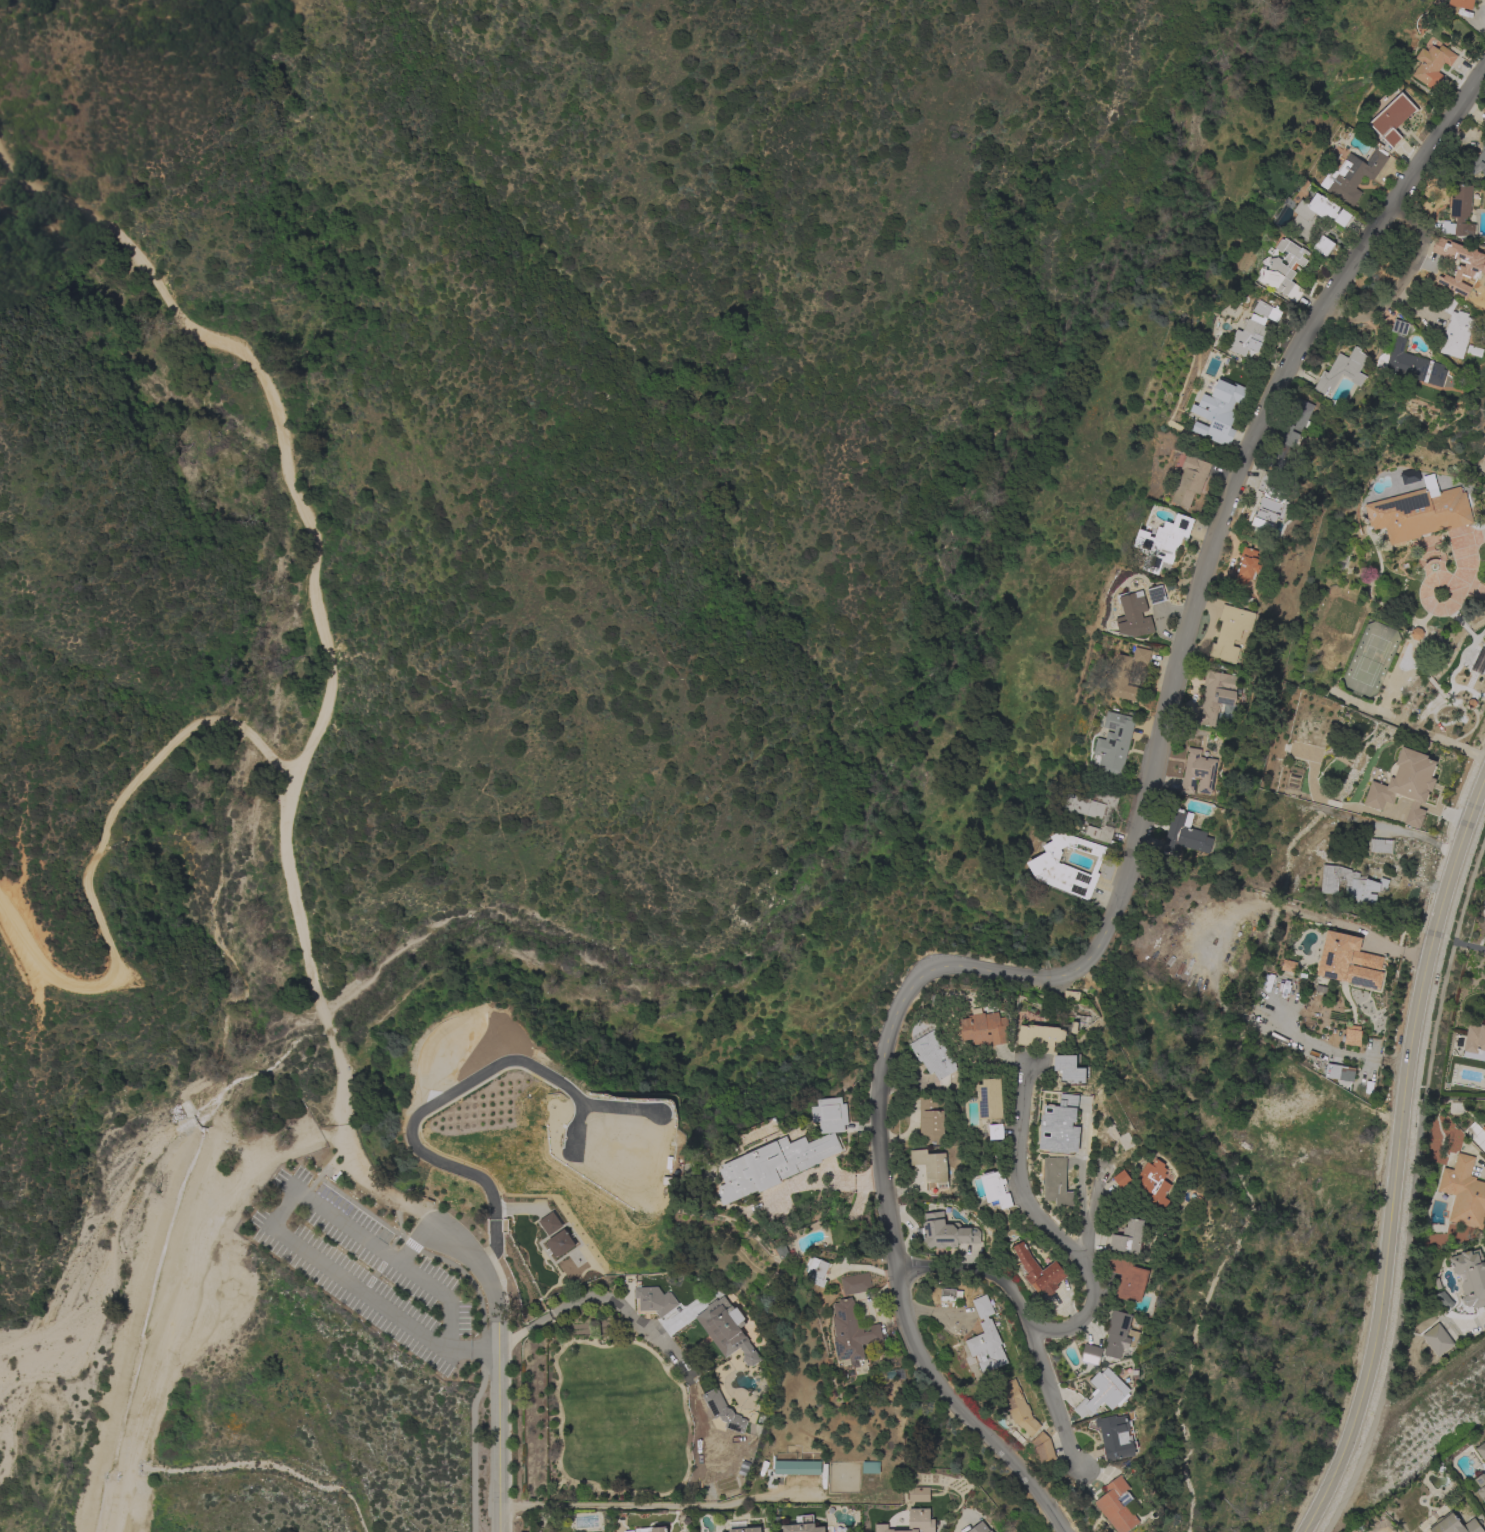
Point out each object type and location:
building: (1460, 4)
building: (1431, 65)
building: (1391, 119)
building: (1478, 161)
building: (1352, 176)
building: (1459, 212)
building: (1315, 216)
building: (1323, 246)
building: (1284, 270)
building: (1465, 272)
building: (1436, 276)
road: (1399, 283)
building: (1261, 309)
building: (1399, 327)
building: (1454, 330)
building: (1247, 338)
building: (1410, 364)
building: (1342, 371)
building: (1217, 412)
building: (1291, 432)
building: (1189, 480)
building: (1268, 504)
road: (1225, 510)
building: (1418, 513)
building: (1161, 543)
building: (1247, 567)
road: (1472, 586)
building: (1156, 595)
building: (1133, 615)
road: (319, 621)
building: (1230, 632)
building: (1416, 634)
road: (1411, 655)
building: (1125, 675)
building: (1216, 697)
building: (1113, 743)
building: (1197, 773)
building: (1404, 786)
building: (1095, 811)
road: (1394, 830)
building: (1184, 835)
building: (1380, 846)
road: (97, 858)
building: (1065, 866)
building: (1350, 885)
building: (1345, 961)
building: (1288, 966)
building: (1070, 995)
building: (984, 1029)
building: (1040, 1037)
building: (1351, 1038)
building: (1474, 1043)
building: (933, 1055)
road: (1342, 1055)
building: (1069, 1068)
building: (1339, 1073)
building: (989, 1099)
building: (829, 1115)
road: (414, 1117)
building: (930, 1121)
building: (1061, 1126)
building: (1483, 1129)
building: (995, 1132)
road: (1397, 1155)
building: (772, 1165)
building: (931, 1166)
building: (1121, 1179)
building: (1056, 1182)
building: (1154, 1183)
road: (811, 1184)
road: (1412, 1188)
building: (995, 1190)
building: (1463, 1193)
road: (884, 1209)
building: (851, 1210)
road: (276, 1221)
building: (549, 1223)
road: (1043, 1228)
building: (945, 1232)
road: (1086, 1235)
building: (1128, 1238)
road: (413, 1240)
building: (559, 1242)
building: (782, 1252)
parking lot: (368, 1263)
building: (818, 1272)
building: (1038, 1272)
road: (974, 1273)
building: (1470, 1276)
building: (1128, 1279)
building: (855, 1284)
building: (948, 1297)
building: (653, 1300)
building: (726, 1330)
building: (851, 1331)
building: (1117, 1334)
building: (985, 1336)
road: (655, 1338)
building: (1437, 1340)
road: (498, 1352)
building: (1090, 1353)
building: (1103, 1394)
road: (1053, 1402)
building: (1017, 1407)
building: (723, 1411)
building: (1115, 1437)
building: (1043, 1447)
building: (1481, 1450)
building: (797, 1467)
building: (869, 1467)
building: (1480, 1487)
building: (917, 1494)
building: (1117, 1505)
road: (658, 1506)
building: (912, 1522)
road: (960, 1523)
building: (802, 1525)
building: (1453, 1525)
building: (741, 1527)
building: (979, 1528)
building: (658, 1529)
building: (628, 1531)

